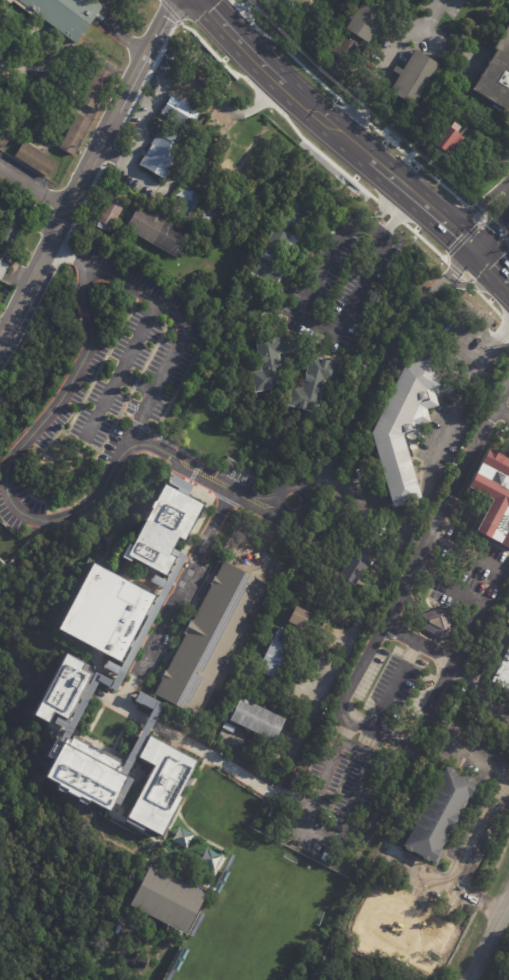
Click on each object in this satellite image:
road: (255, 0)
road: (168, 9)
traffic signals: (210, 10)
building: (66, 14)
road: (241, 15)
traffic signals: (165, 17)
building: (358, 28)
road: (117, 32)
road: (253, 56)
road: (382, 61)
building: (497, 76)
building: (415, 79)
building: (96, 89)
road: (110, 120)
road: (324, 122)
road: (142, 123)
road: (368, 123)
building: (75, 136)
building: (170, 136)
building: (4, 138)
building: (449, 138)
road: (355, 147)
building: (35, 158)
road: (127, 166)
road: (33, 188)
road: (423, 205)
road: (385, 206)
road: (470, 211)
building: (110, 213)
road: (395, 215)
traffic signals: (497, 223)
road: (494, 227)
building: (12, 228)
building: (159, 230)
traffic signals: (458, 236)
building: (284, 237)
traffic signals: (490, 267)
building: (3, 268)
road: (492, 269)
traffic signals: (452, 275)
road: (24, 292)
road: (147, 316)
road: (316, 324)
building: (272, 362)
road: (379, 365)
building: (315, 384)
road: (150, 393)
parking lot: (96, 410)
road: (503, 410)
building: (402, 424)
road: (35, 427)
road: (202, 471)
road: (427, 483)
building: (491, 496)
road: (365, 504)
road: (277, 505)
building: (164, 526)
road: (423, 553)
road: (466, 556)
building: (358, 564)
building: (279, 568)
road: (184, 581)
building: (104, 611)
building: (300, 617)
building: (437, 623)
building: (209, 638)
road: (419, 643)
building: (278, 653)
building: (503, 674)
road: (392, 686)
building: (62, 689)
road: (349, 690)
road: (477, 694)
building: (259, 720)
road: (340, 741)
road: (479, 759)
building: (83, 771)
building: (159, 783)
parking lot: (336, 798)
parking lot: (451, 803)
building: (438, 814)
road: (316, 836)
road: (463, 856)
building: (169, 901)
park: (254, 915)
road: (487, 939)

